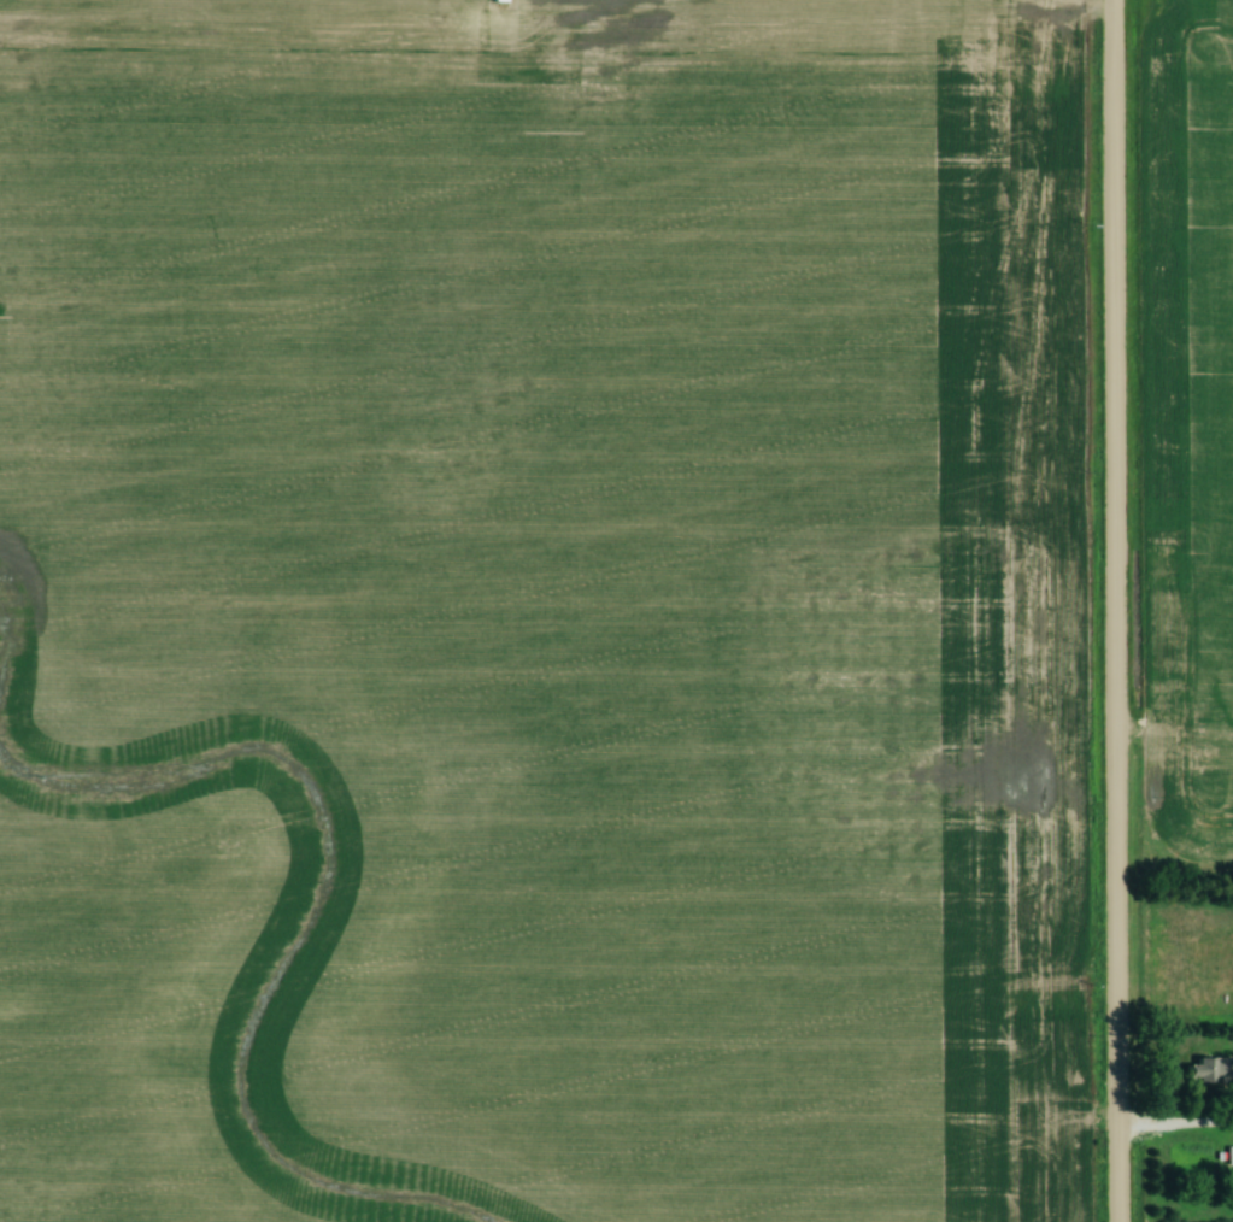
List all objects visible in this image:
road: (1117, 611)
building: (1074, 1047)
building: (1211, 1071)
building: (1075, 1075)
building: (1231, 1156)

